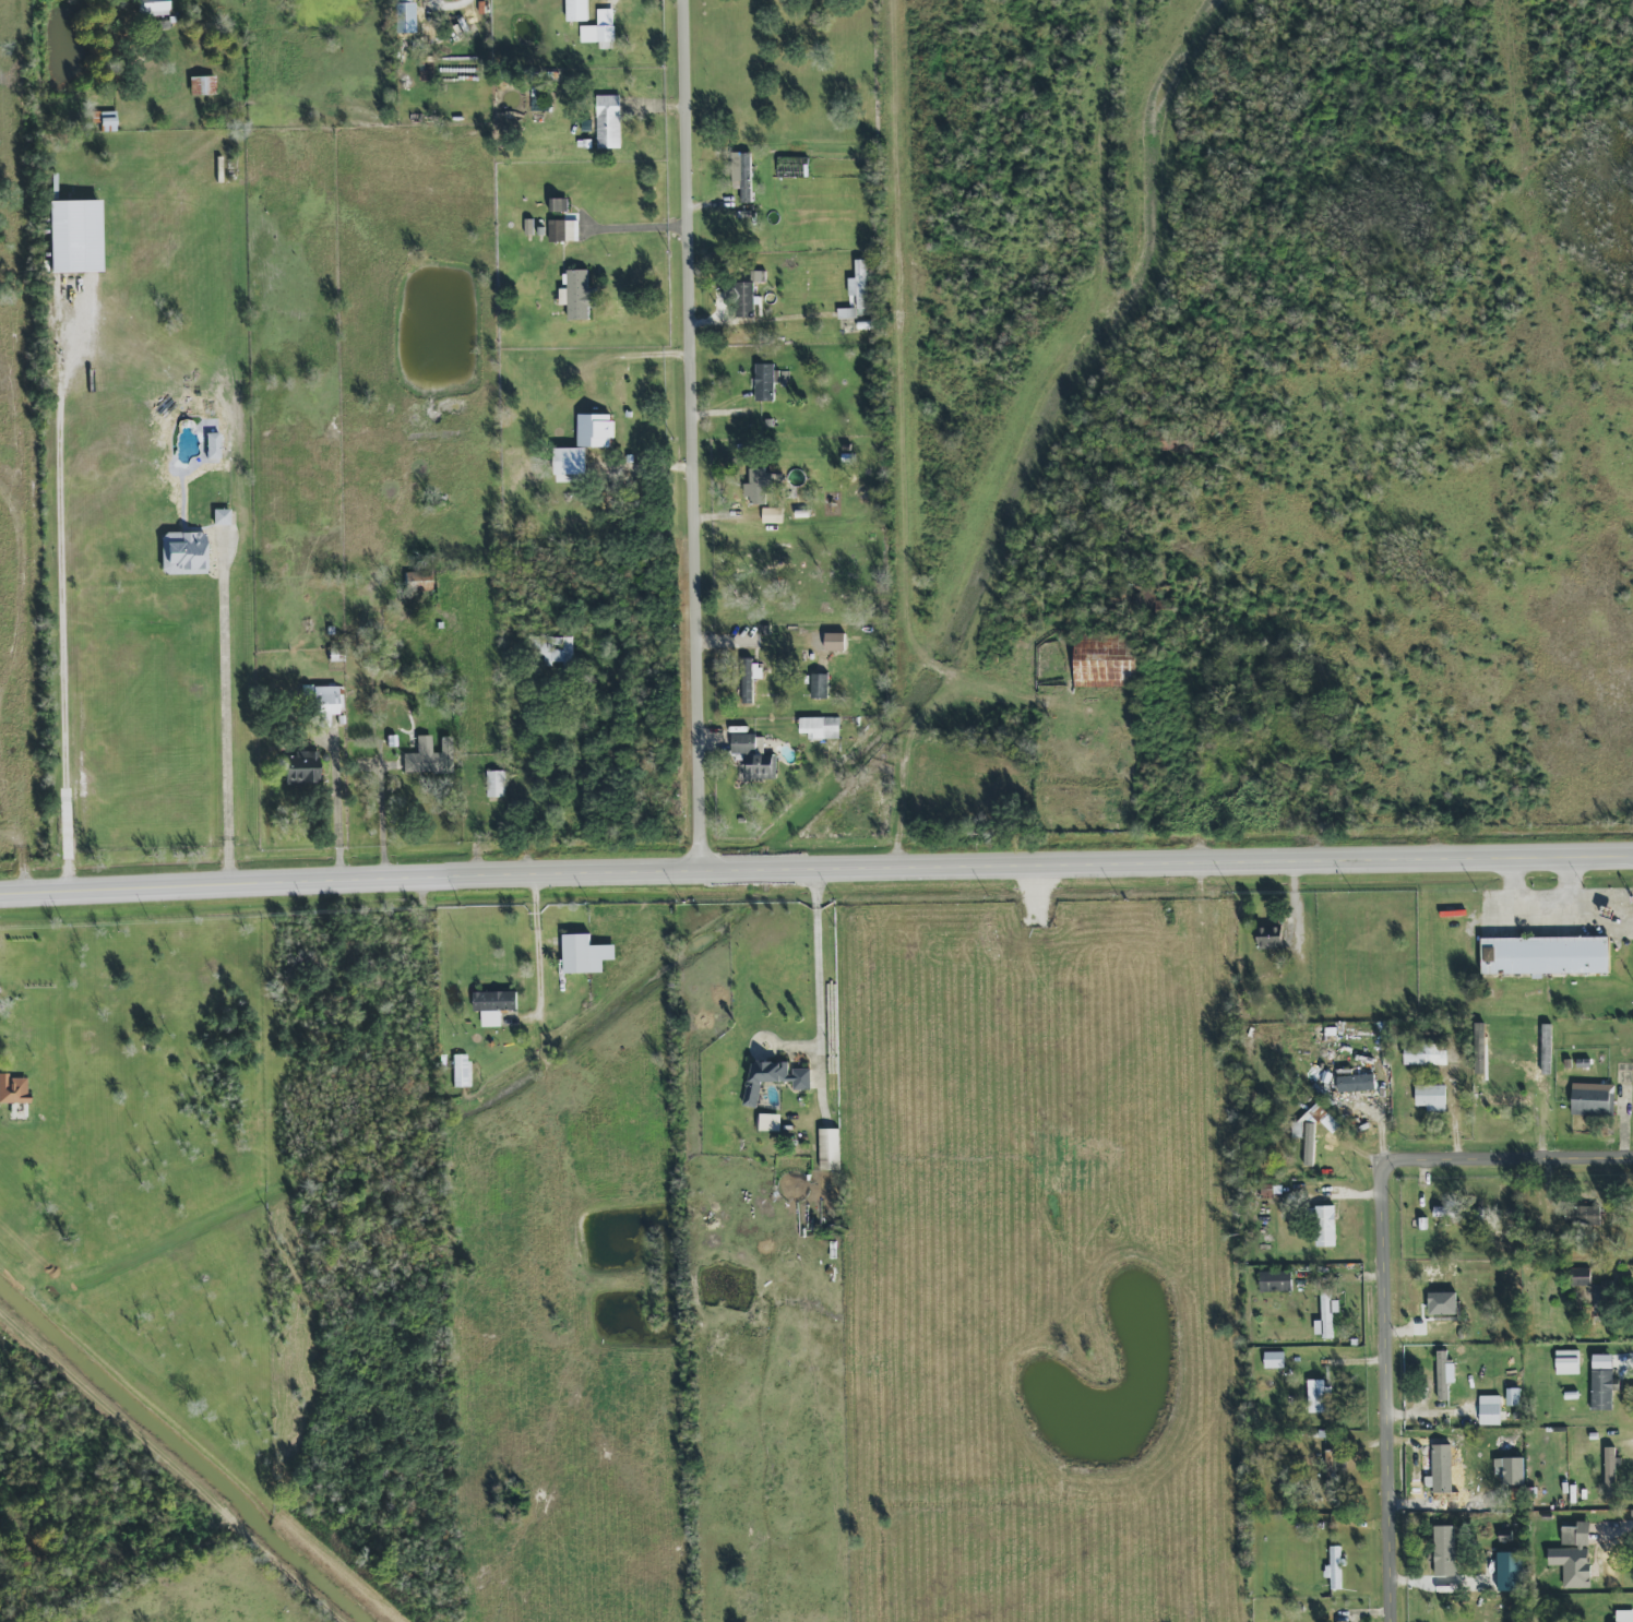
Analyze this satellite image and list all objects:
building: (405, 1)
building: (151, 8)
building: (576, 11)
building: (599, 29)
building: (201, 85)
building: (106, 121)
building: (607, 122)
building: (744, 178)
building: (557, 204)
building: (562, 230)
building: (72, 235)
building: (756, 276)
building: (857, 285)
building: (744, 300)
building: (846, 313)
building: (765, 381)
road: (902, 384)
building: (594, 430)
road: (695, 438)
building: (569, 461)
building: (759, 486)
building: (219, 514)
building: (771, 514)
building: (182, 552)
building: (416, 581)
road: (69, 603)
building: (557, 652)
building: (1104, 661)
building: (819, 685)
building: (747, 691)
building: (320, 702)
road: (226, 714)
building: (819, 728)
building: (428, 756)
building: (752, 756)
building: (299, 767)
building: (494, 784)
road: (339, 812)
road: (815, 874)
road: (1561, 886)
road: (1541, 916)
building: (1270, 938)
building: (584, 955)
building: (1546, 955)
road: (544, 963)
road: (820, 965)
building: (492, 1006)
building: (1426, 1054)
building: (460, 1070)
building: (773, 1078)
building: (1355, 1083)
building: (12, 1089)
building: (1431, 1097)
building: (1593, 1099)
building: (1506, 1100)
building: (1323, 1119)
building: (768, 1123)
building: (1308, 1144)
building: (829, 1149)
building: (1440, 1212)
building: (1584, 1215)
building: (1324, 1227)
road: (1388, 1272)
building: (1581, 1277)
building: (1275, 1281)
building: (1604, 1293)
building: (1442, 1301)
building: (1273, 1360)
building: (1565, 1362)
building: (1601, 1362)
building: (1443, 1375)
building: (1602, 1390)
building: (1316, 1396)
building: (1512, 1397)
building: (1489, 1410)
road: (202, 1441)
building: (1333, 1465)
road: (175, 1467)
building: (1510, 1471)
building: (1610, 1471)
building: (1504, 1535)
building: (1443, 1550)
building: (1573, 1554)
building: (1612, 1560)
building: (1333, 1567)
building: (1509, 1571)
building: (1623, 1615)
building: (1343, 1621)

